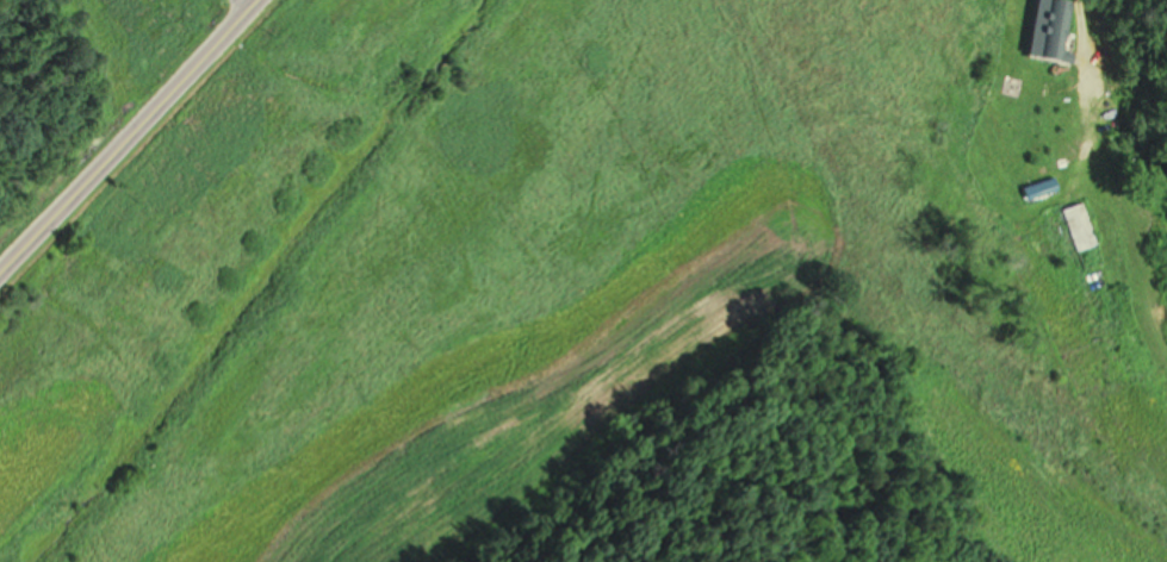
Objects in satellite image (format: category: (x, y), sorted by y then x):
building: (1049, 29)
road: (1084, 58)
road: (128, 136)
building: (1081, 225)

